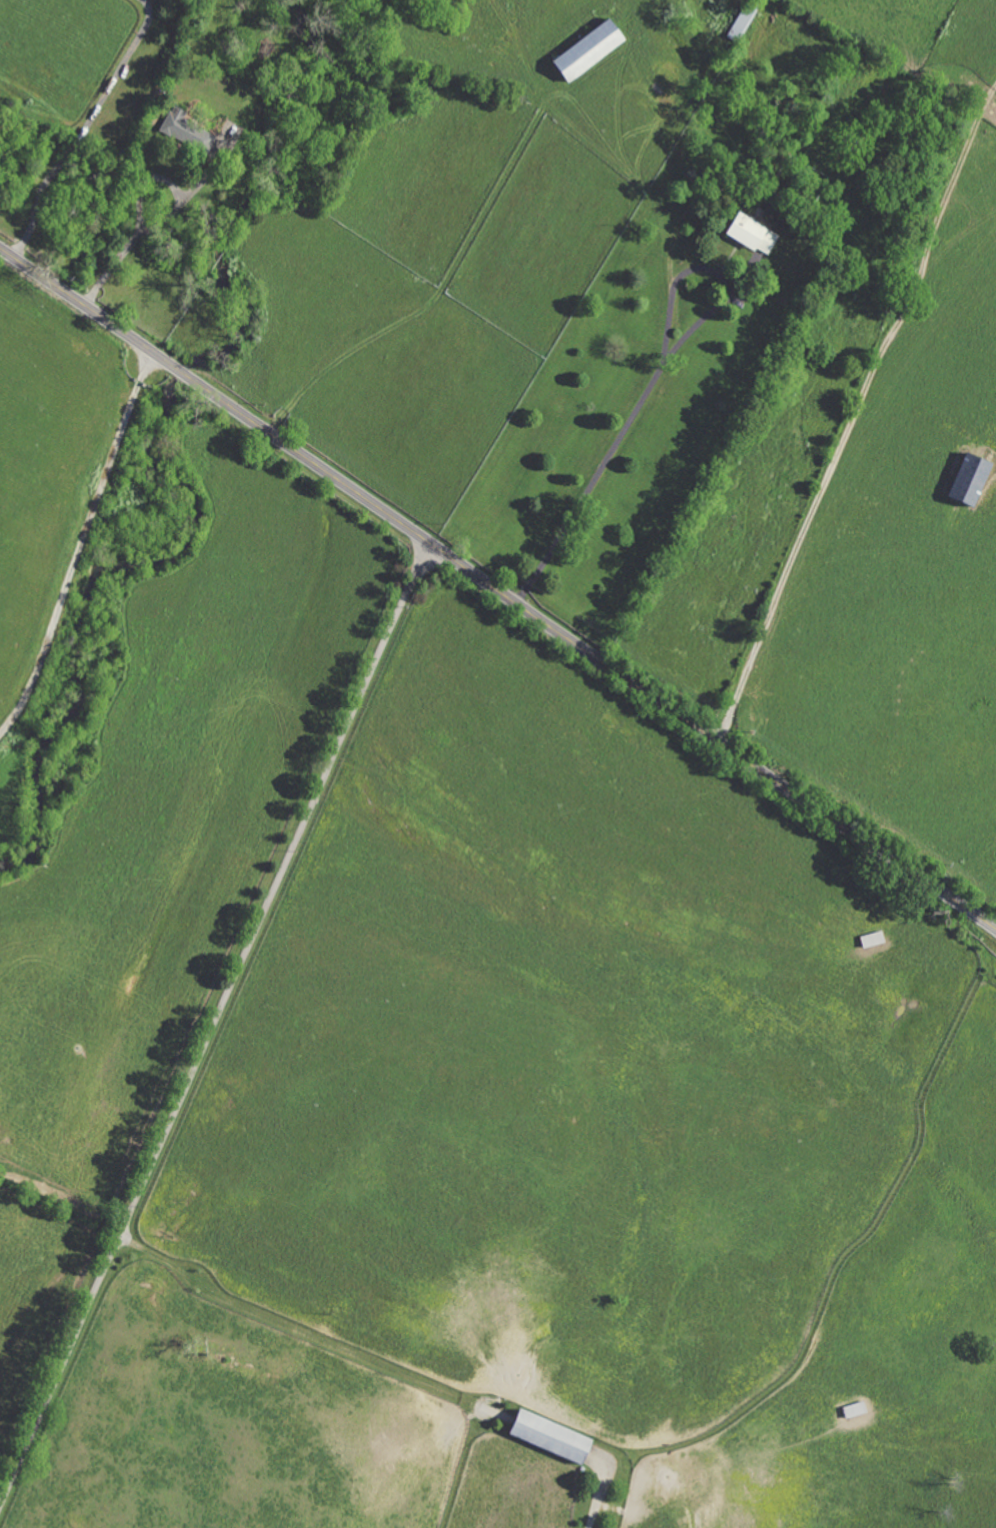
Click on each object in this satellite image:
building: (580, 53)
road: (77, 127)
building: (183, 131)
road: (506, 173)
road: (639, 184)
road: (150, 231)
building: (745, 232)
road: (655, 375)
road: (854, 410)
building: (963, 479)
road: (80, 546)
road: (497, 590)
road: (213, 1026)
building: (542, 1437)
road: (598, 1498)

